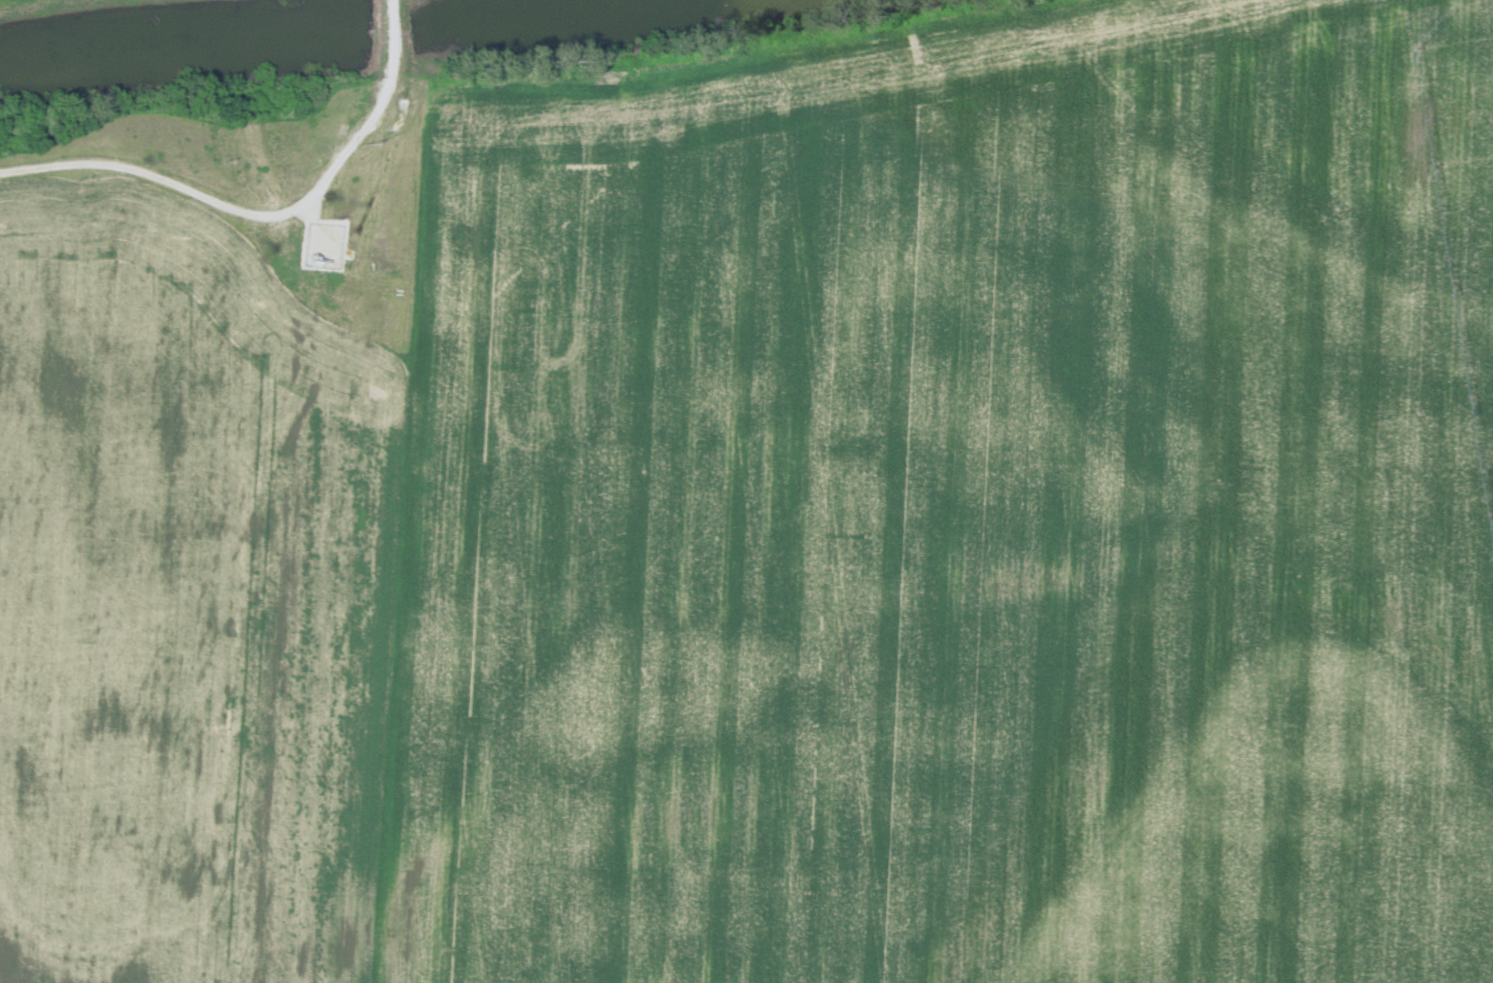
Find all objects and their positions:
crop: (954, 512)
crop: (199, 538)

